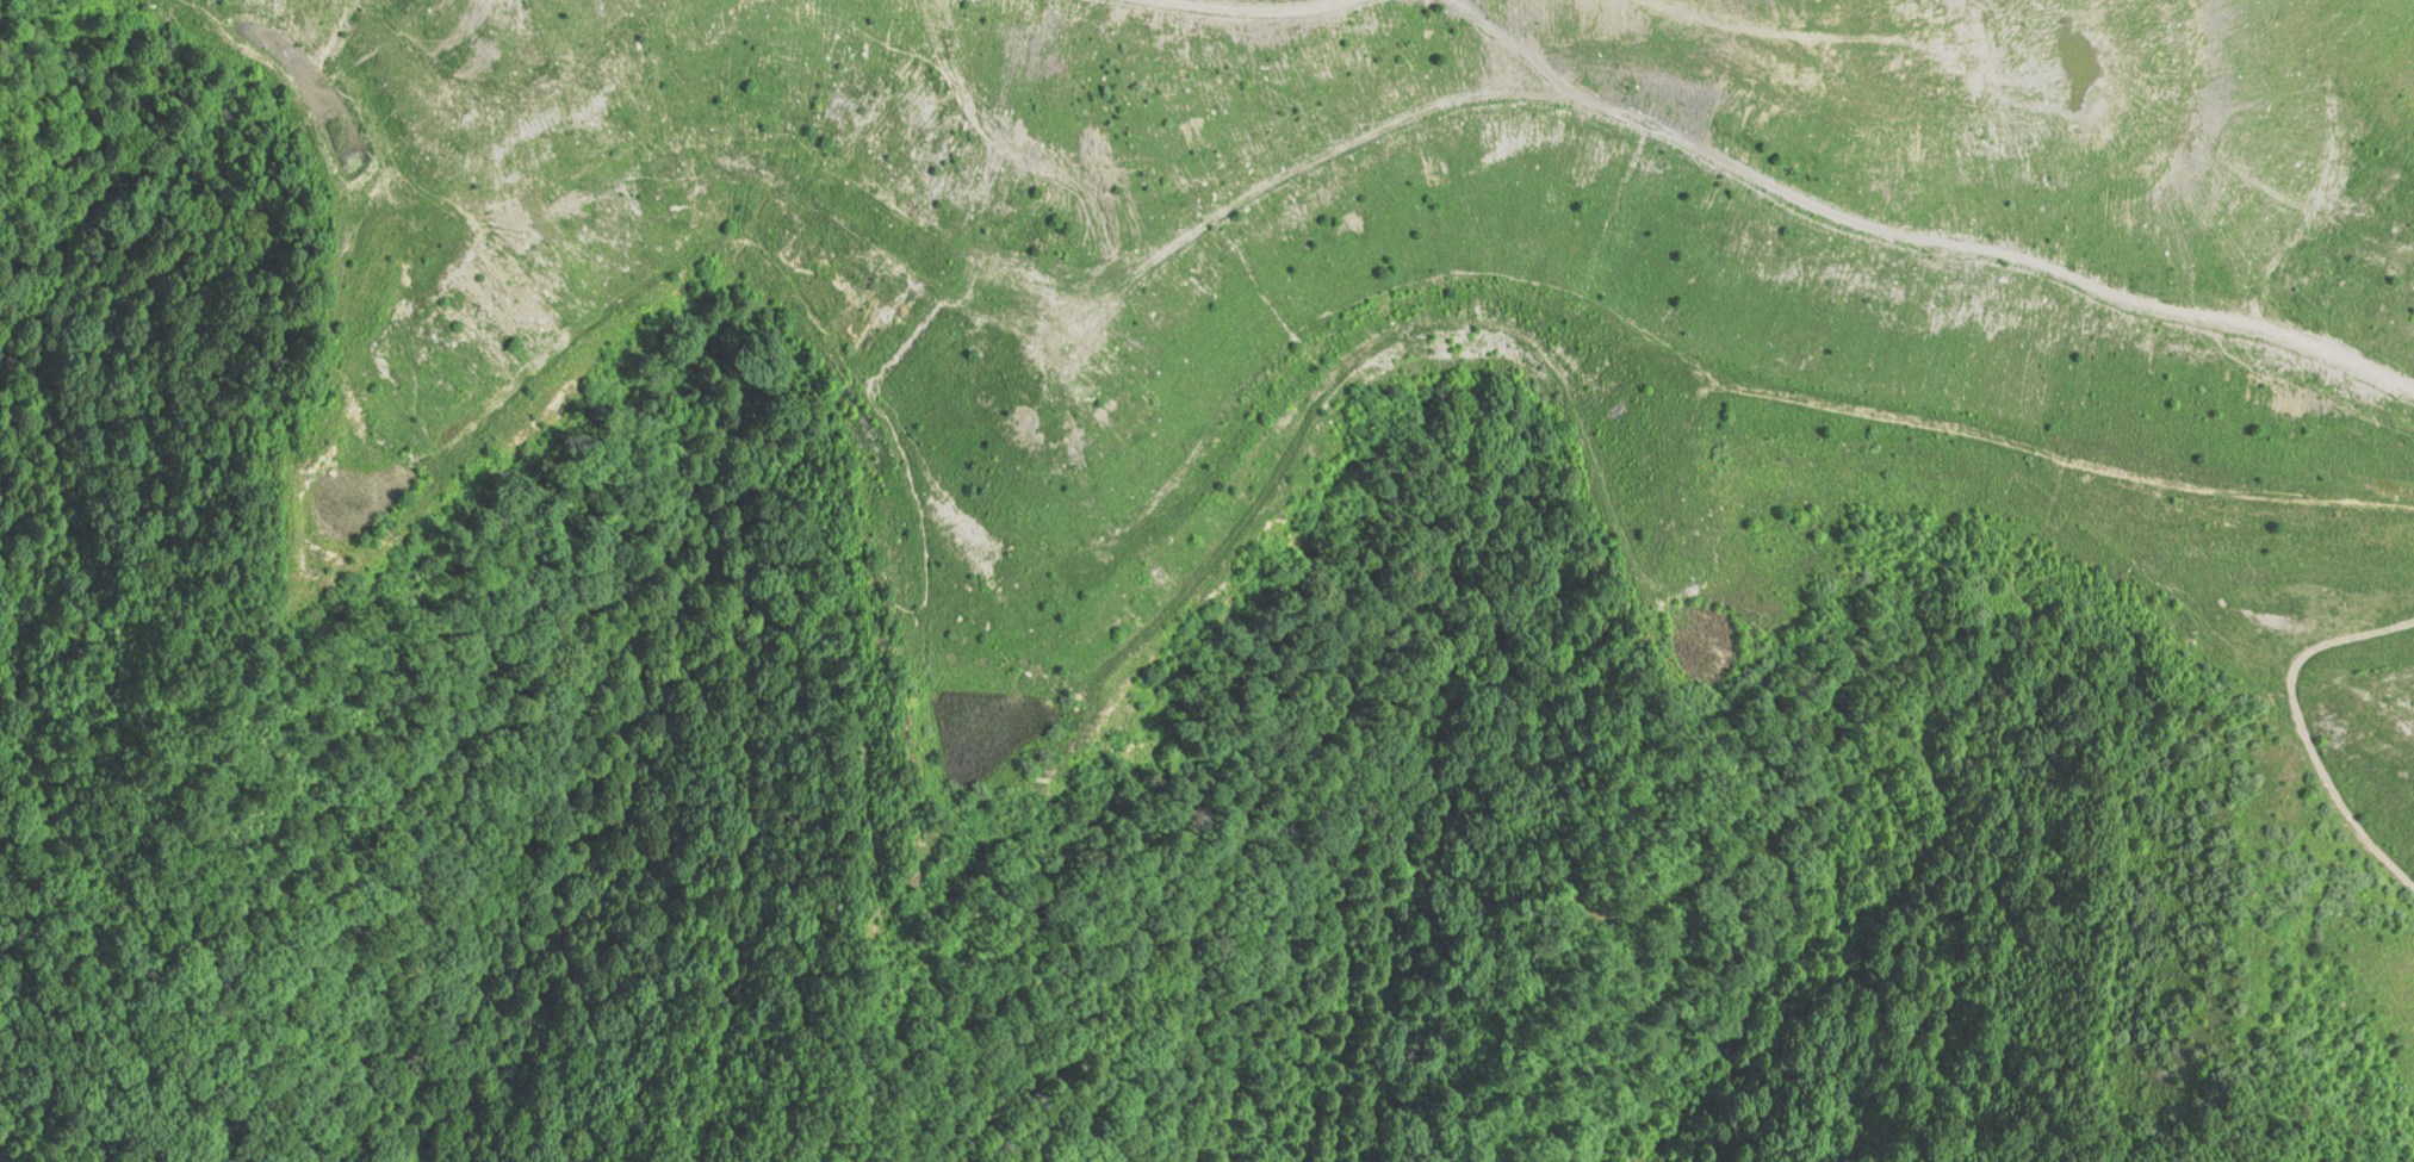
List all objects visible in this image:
quarry: (1687, 379)

